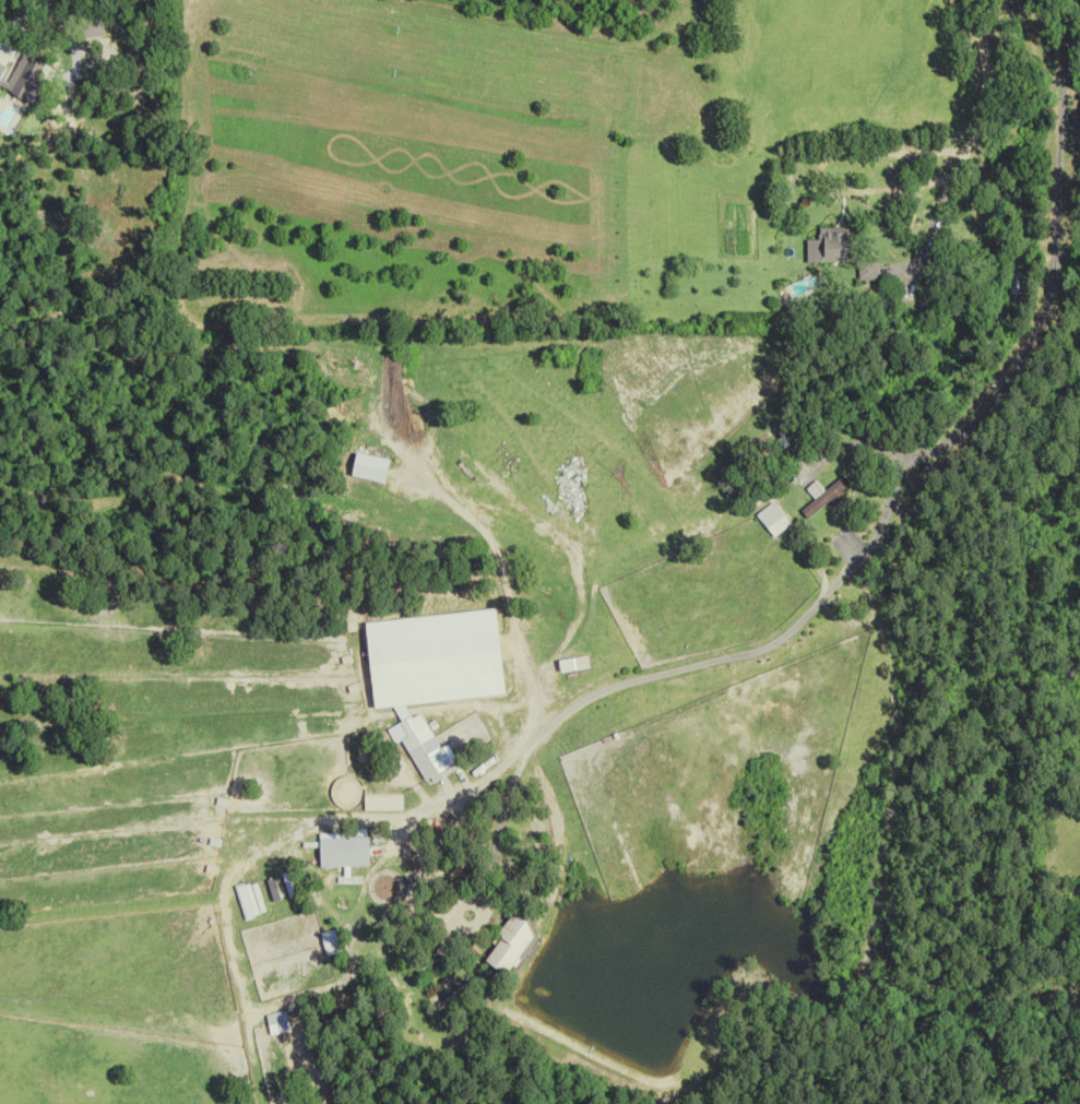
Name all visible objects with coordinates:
building: (727, 10)
building: (834, 246)
building: (1014, 287)
road: (897, 488)
building: (826, 498)
building: (776, 520)
building: (404, 732)
building: (437, 757)
building: (387, 800)
road: (500, 826)
building: (348, 851)
building: (513, 943)
building: (280, 1022)

